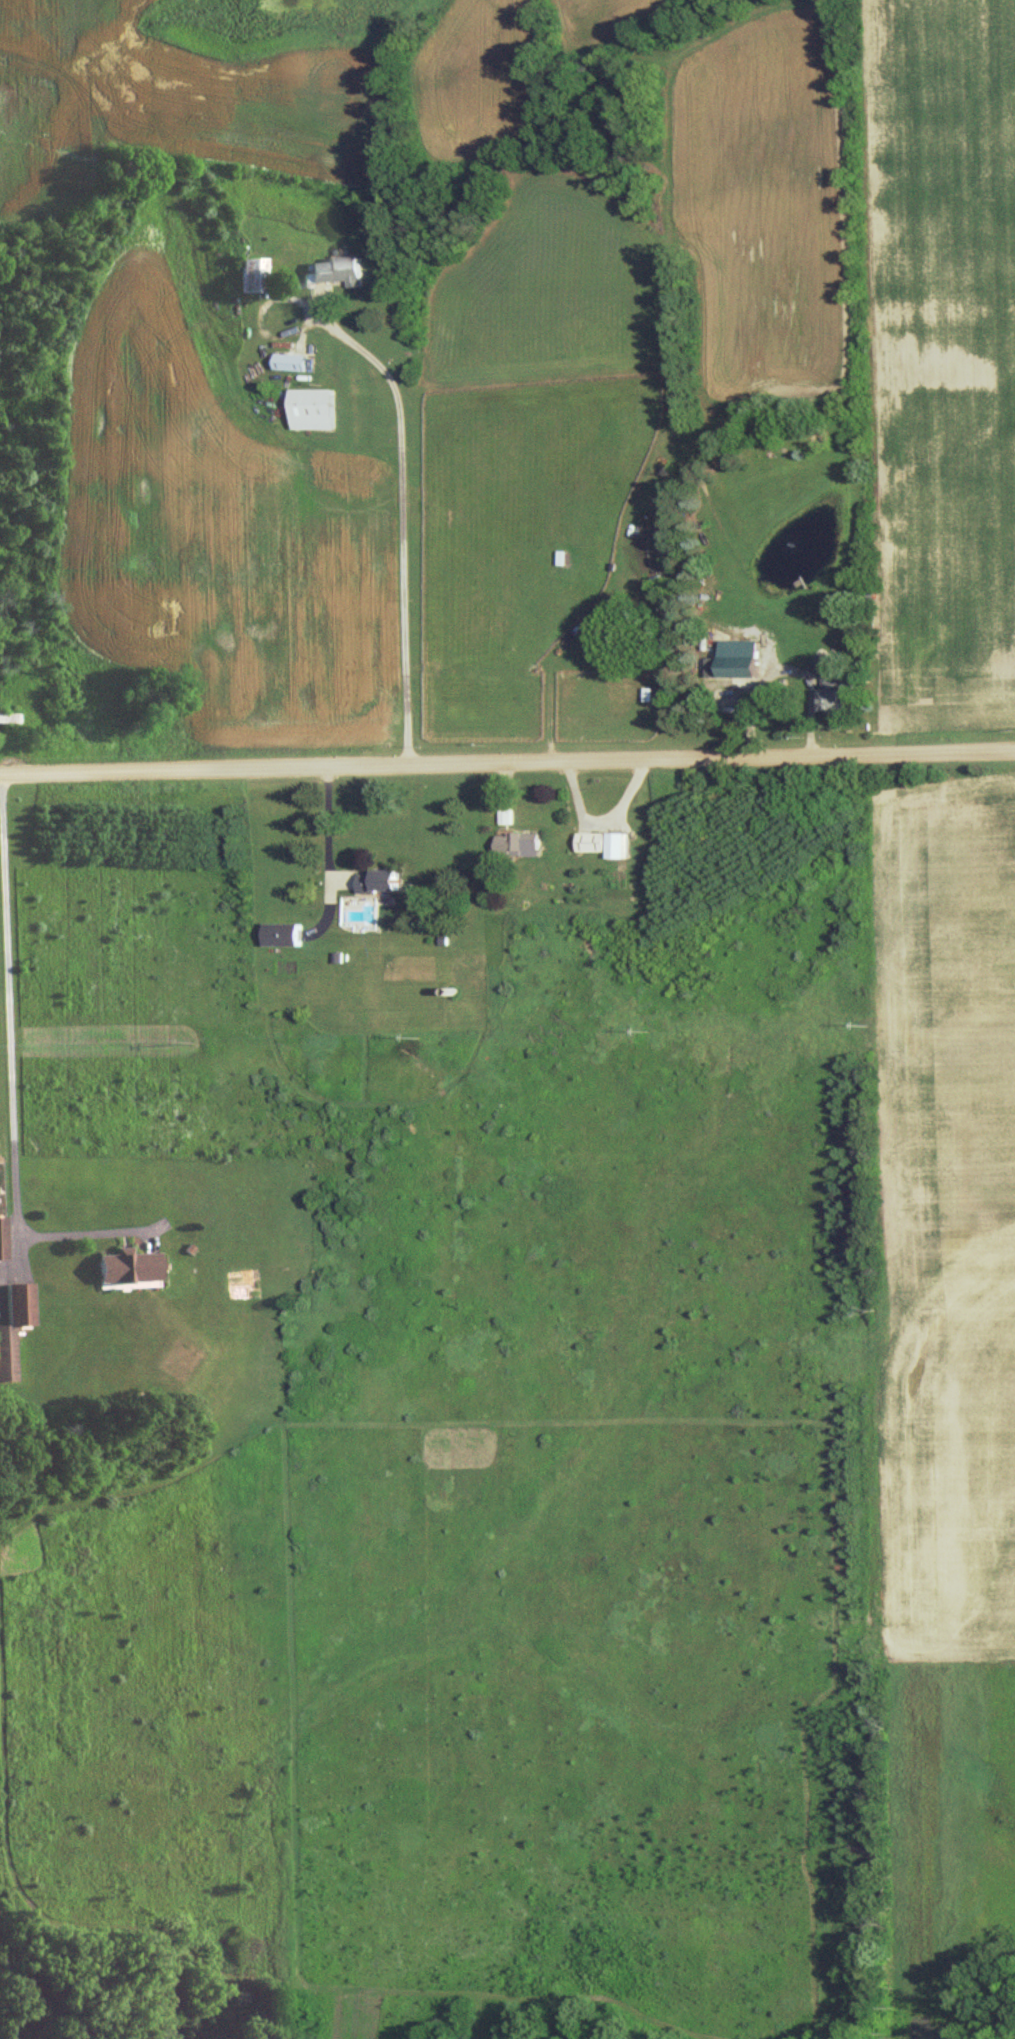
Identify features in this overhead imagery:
building: (337, 270)
building: (252, 274)
building: (314, 407)
road: (398, 529)
building: (735, 661)
building: (836, 685)
building: (9, 716)
road: (507, 764)
building: (505, 815)
building: (521, 841)
building: (605, 842)
building: (382, 879)
building: (285, 933)
road: (8, 1073)
building: (4, 1236)
building: (15, 1324)

